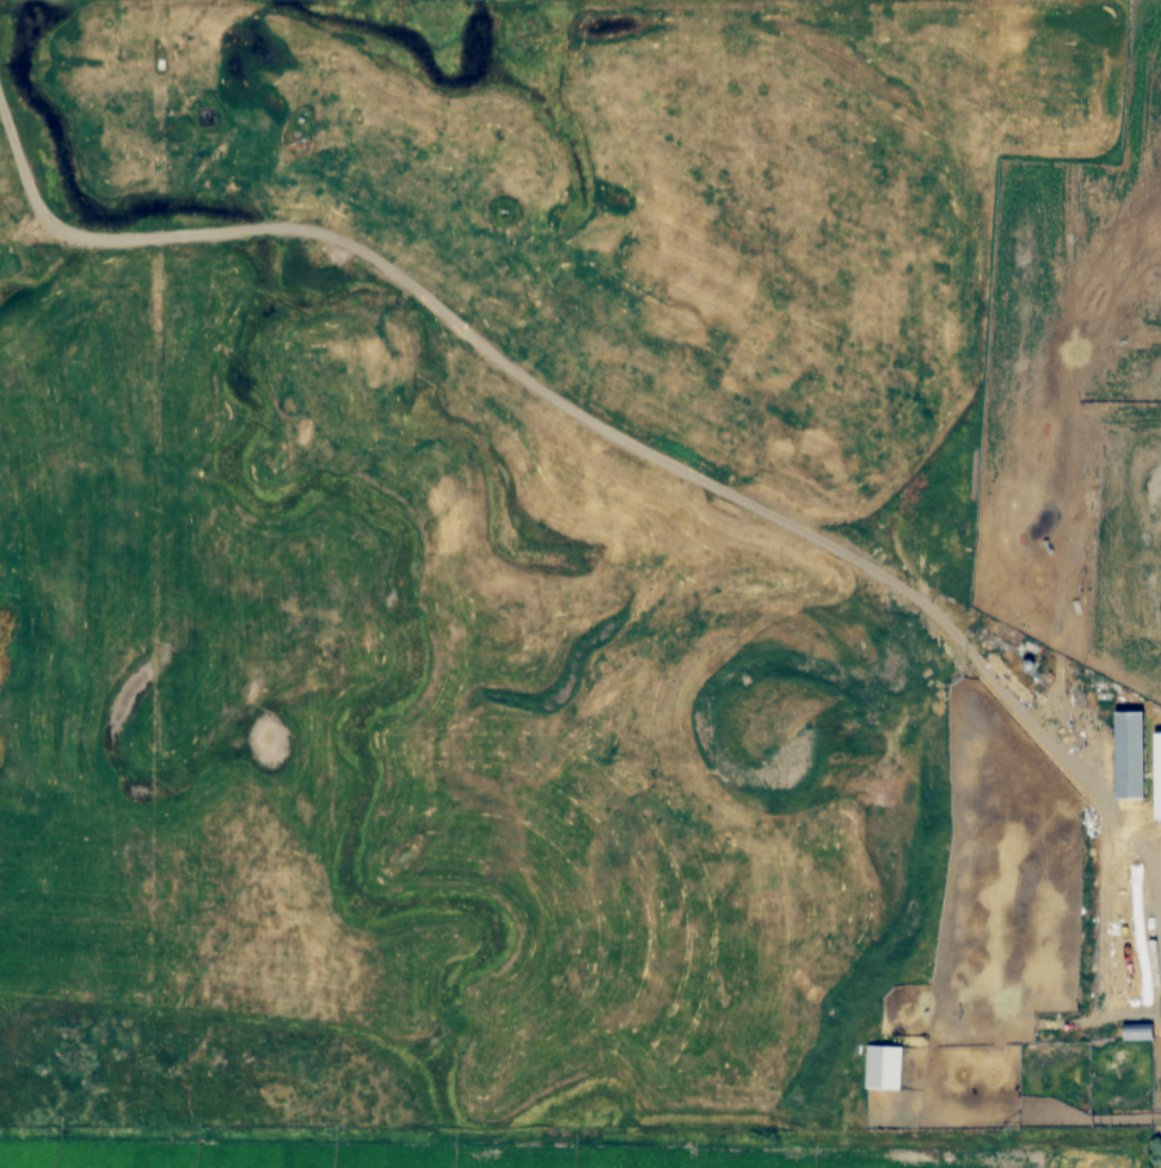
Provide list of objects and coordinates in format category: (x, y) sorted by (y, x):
building: (1153, 480)
building: (1130, 755)
building: (1138, 1032)
building: (884, 1068)

